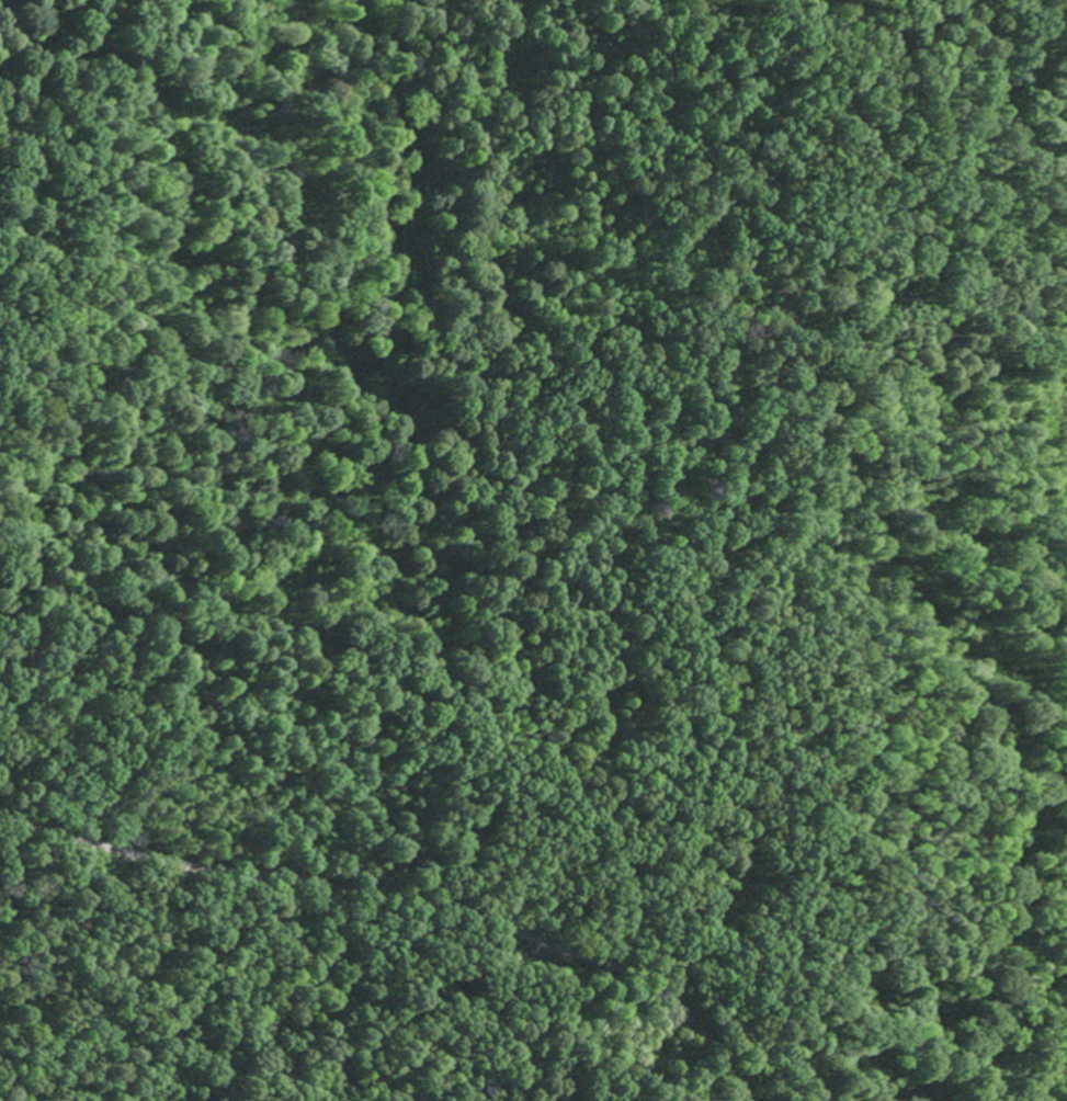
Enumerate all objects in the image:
road: (297, 870)
road: (681, 1009)

